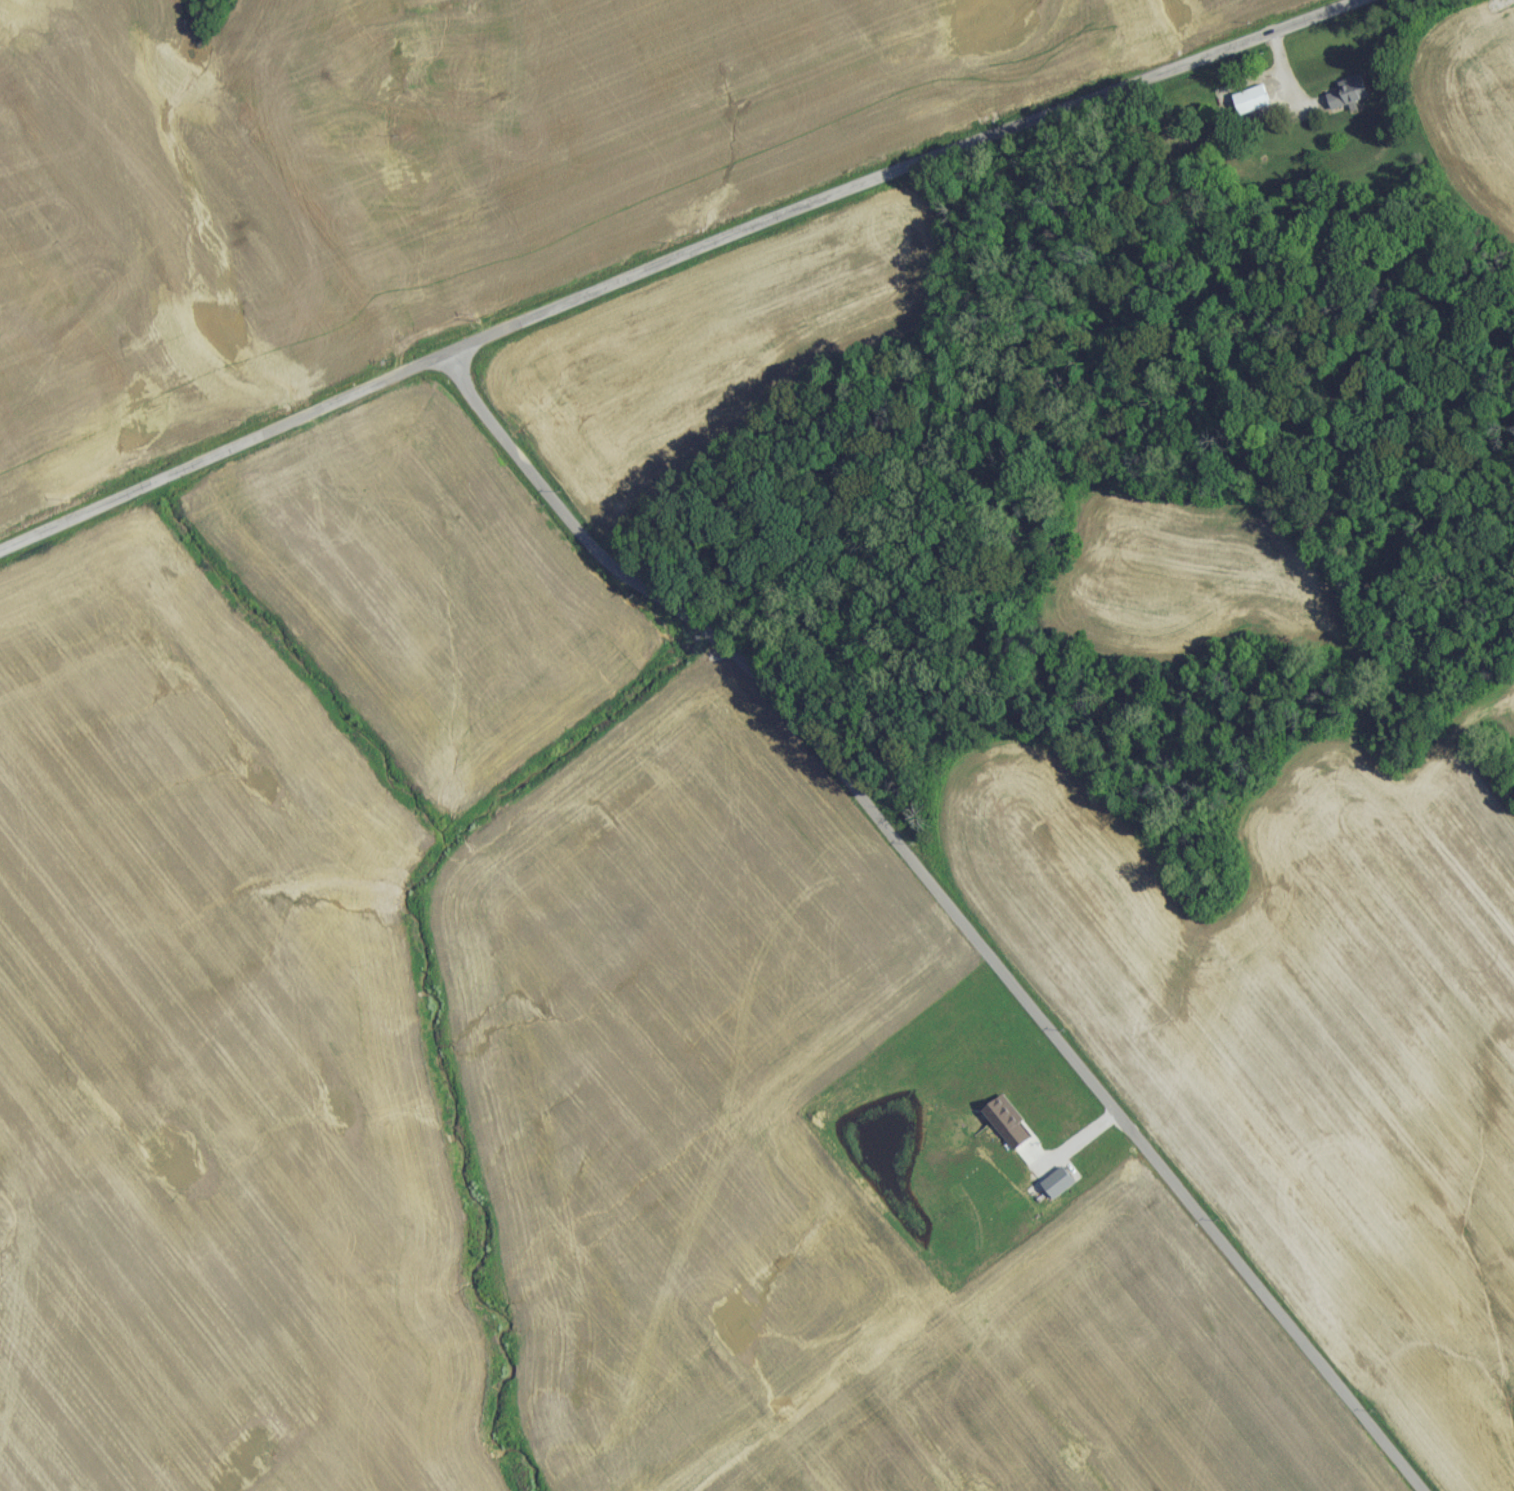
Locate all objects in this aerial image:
building: (1253, 105)
road: (676, 265)
road: (950, 905)
road: (1075, 1142)

